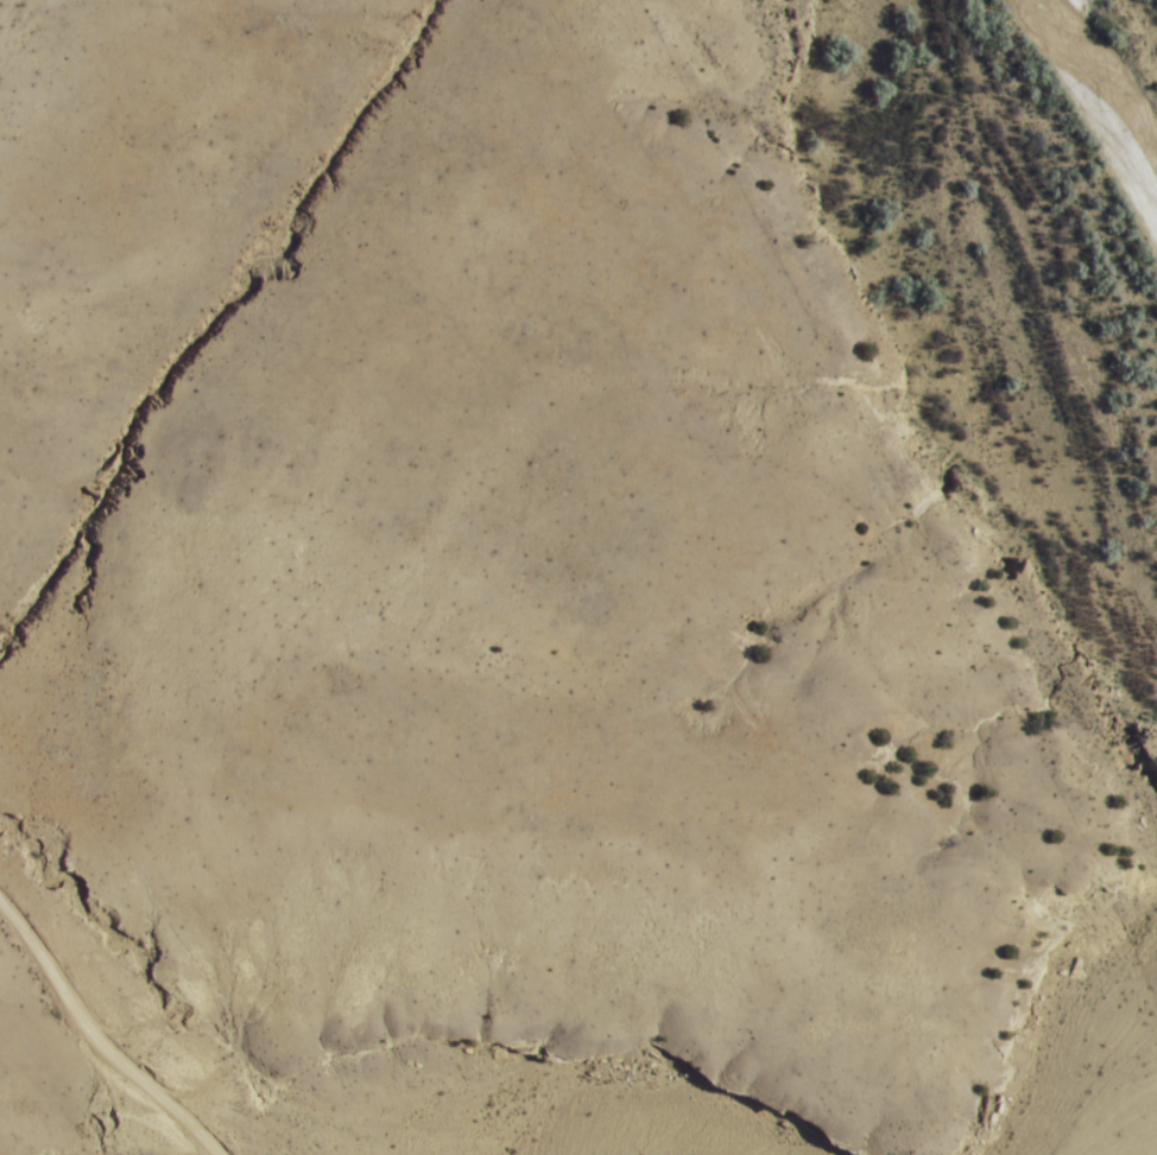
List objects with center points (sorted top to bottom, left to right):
river: (1099, 89)
road: (99, 1041)

